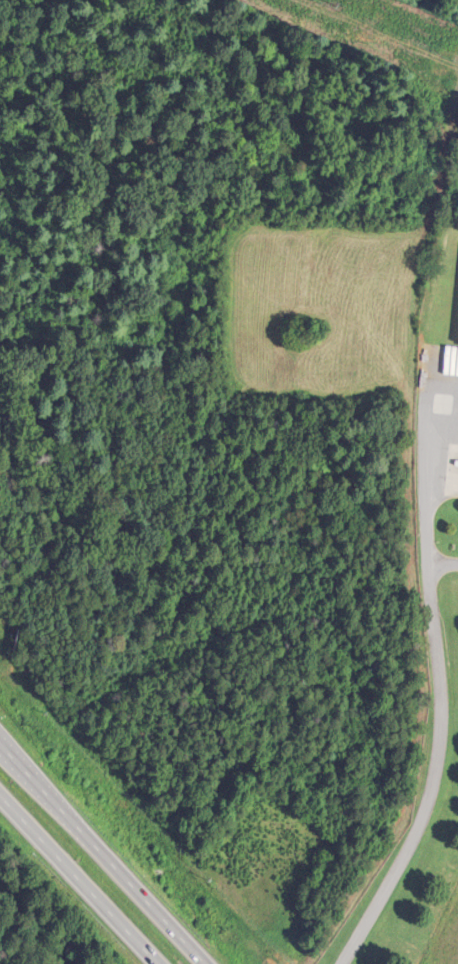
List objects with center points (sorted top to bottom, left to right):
road: (442, 567)
road: (436, 682)
road: (103, 853)
road: (80, 877)

